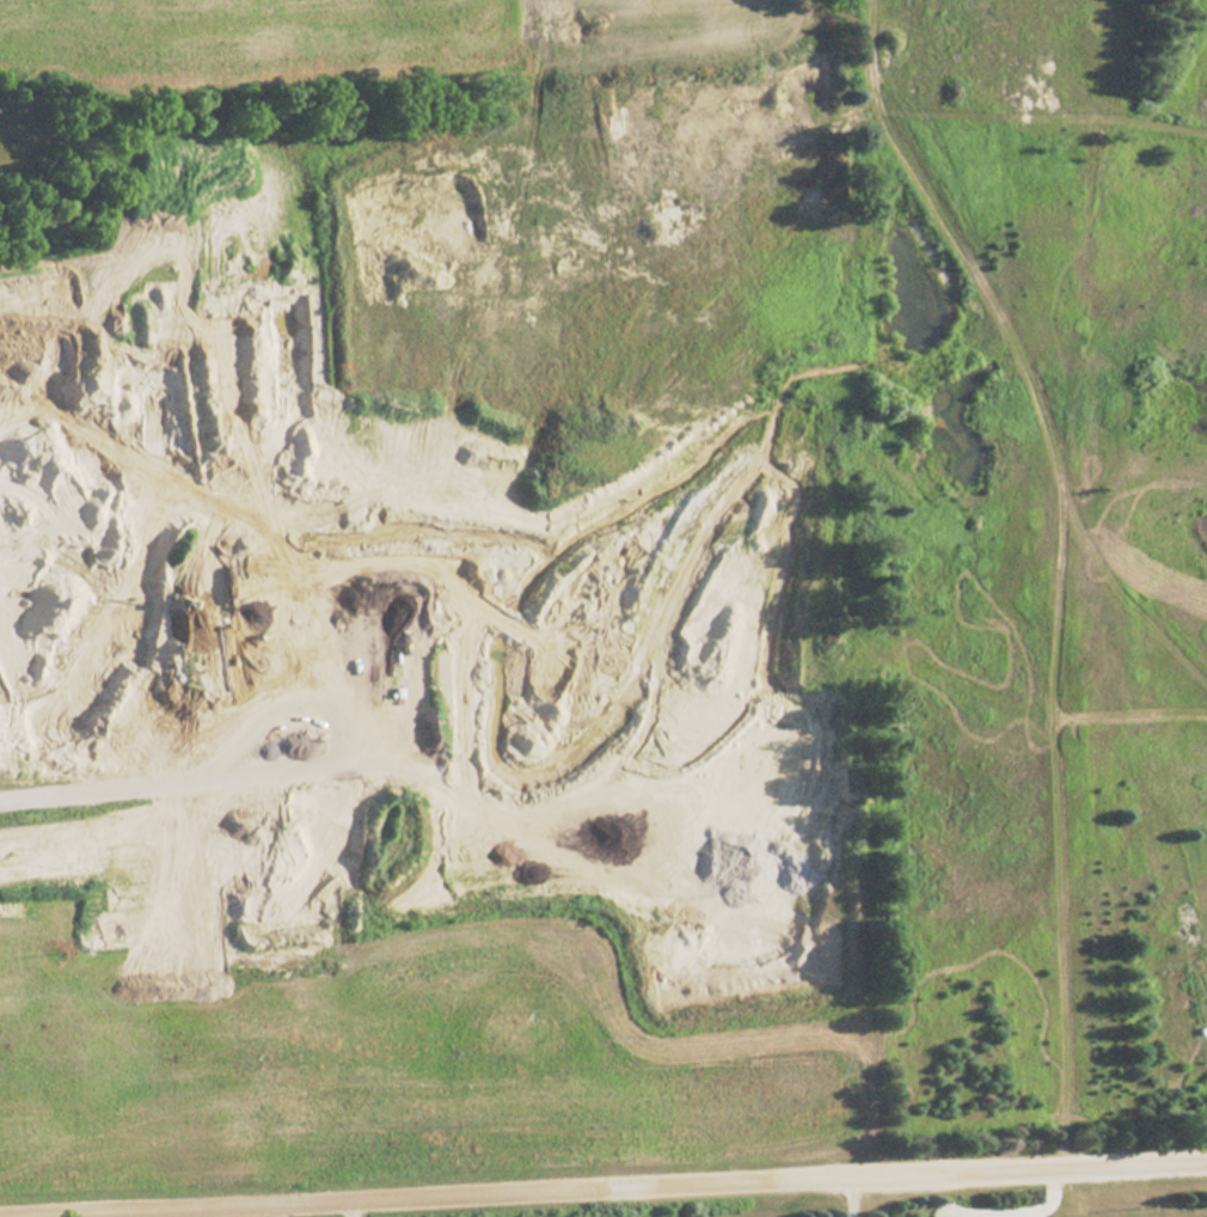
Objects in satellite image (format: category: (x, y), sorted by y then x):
road: (602, 1176)
road: (1048, 1180)
road: (856, 1191)
road: (353, 1203)
road: (1017, 1205)
road: (1041, 1209)

